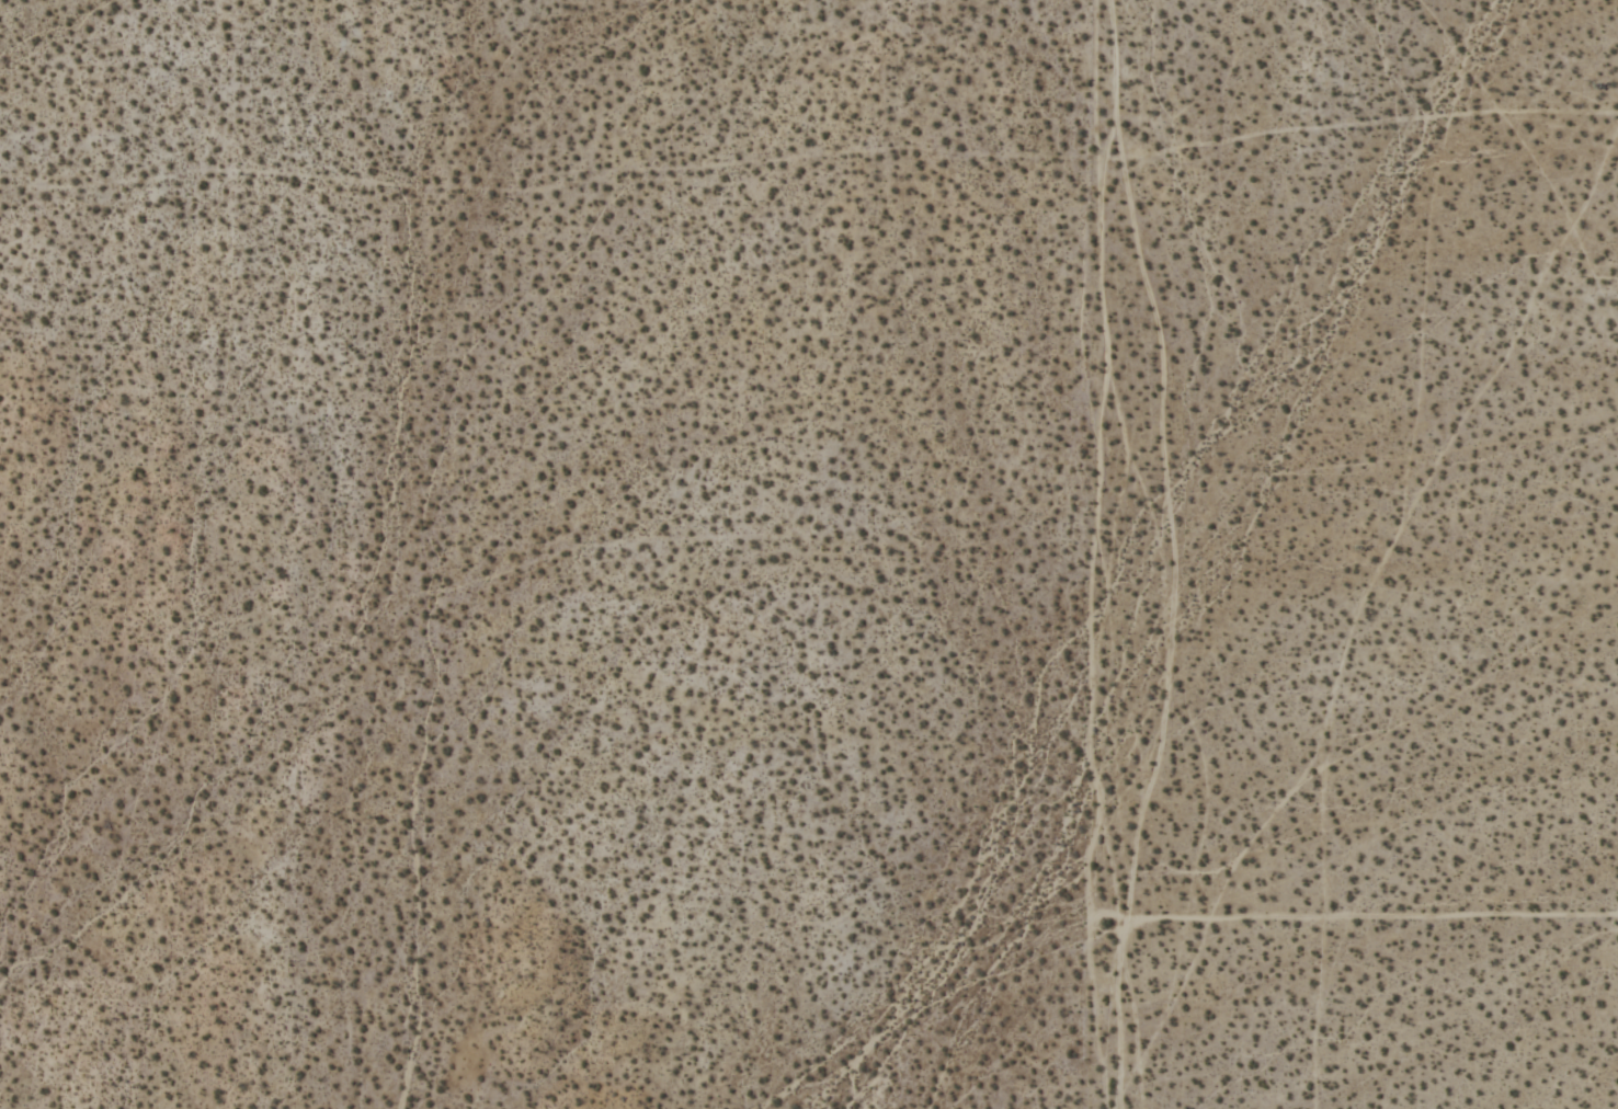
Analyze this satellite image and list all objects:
crop: (1389, 551)

